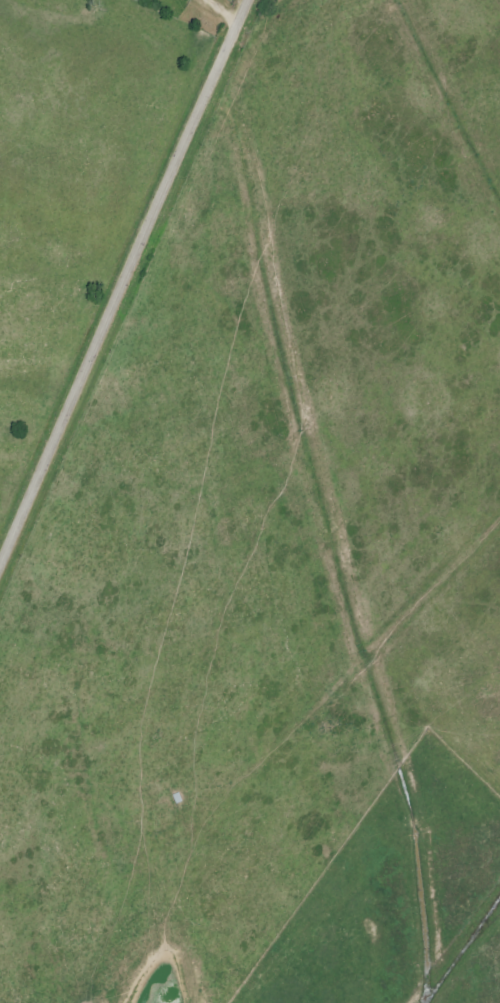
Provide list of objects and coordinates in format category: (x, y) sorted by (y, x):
road: (220, 11)
road: (125, 285)

